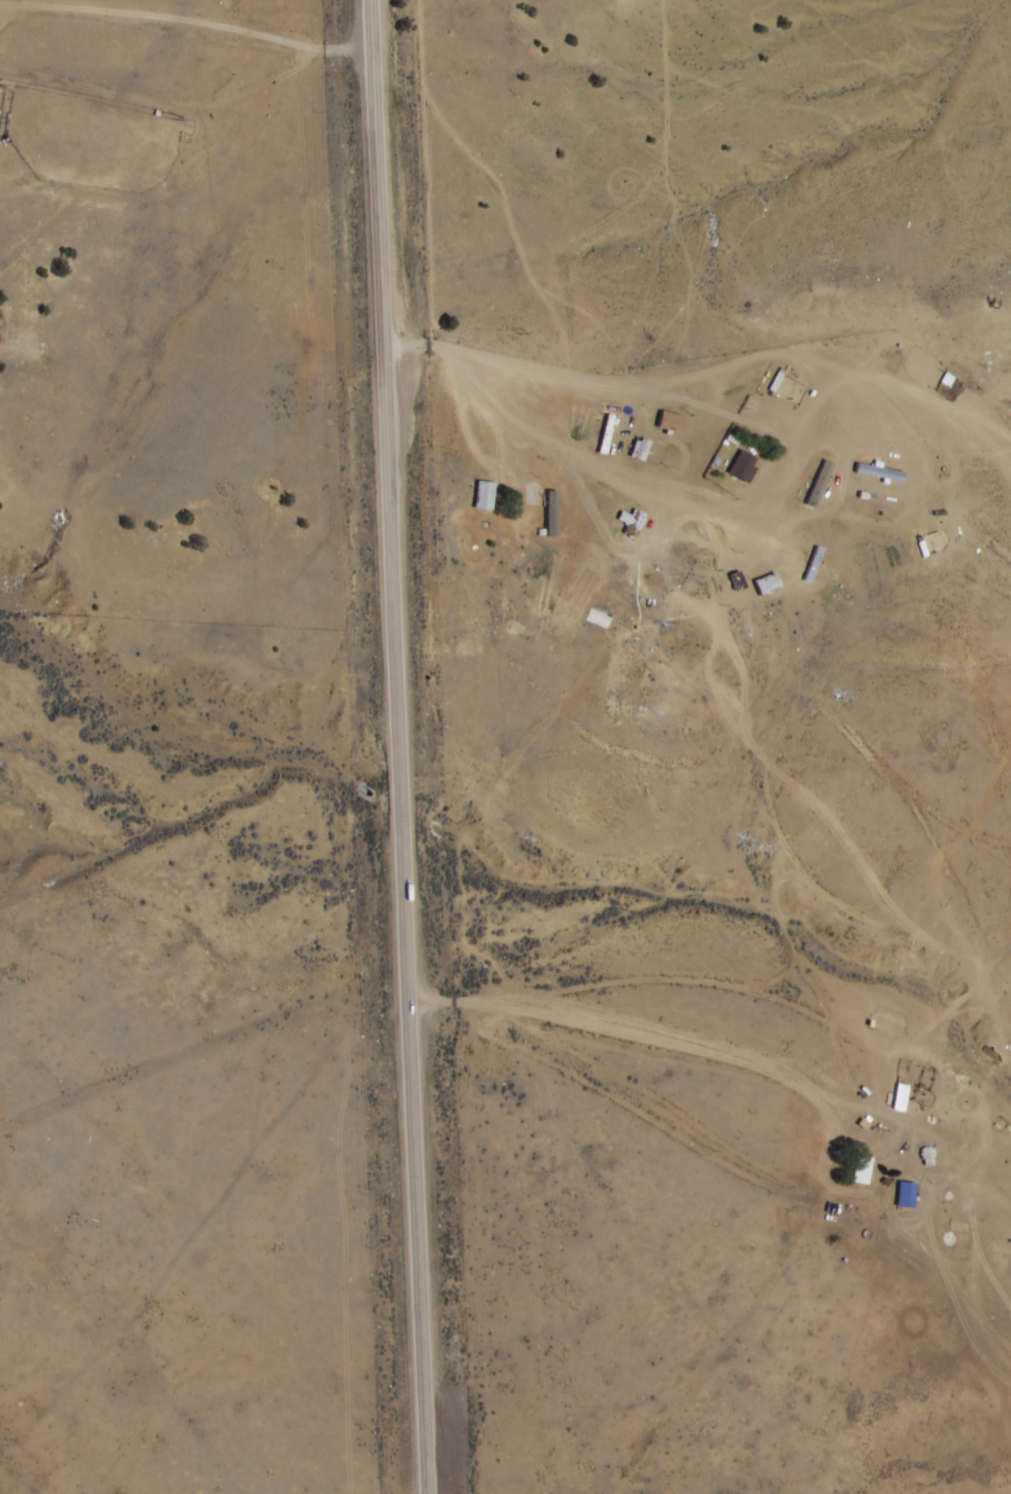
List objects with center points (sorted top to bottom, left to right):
road: (186, 23)
building: (1, 100)
road: (734, 378)
building: (669, 421)
building: (638, 449)
building: (742, 466)
building: (878, 472)
building: (483, 495)
building: (560, 522)
building: (634, 523)
building: (812, 564)
building: (766, 584)
building: (599, 618)
road: (400, 746)
building: (860, 1169)
building: (950, 1239)

